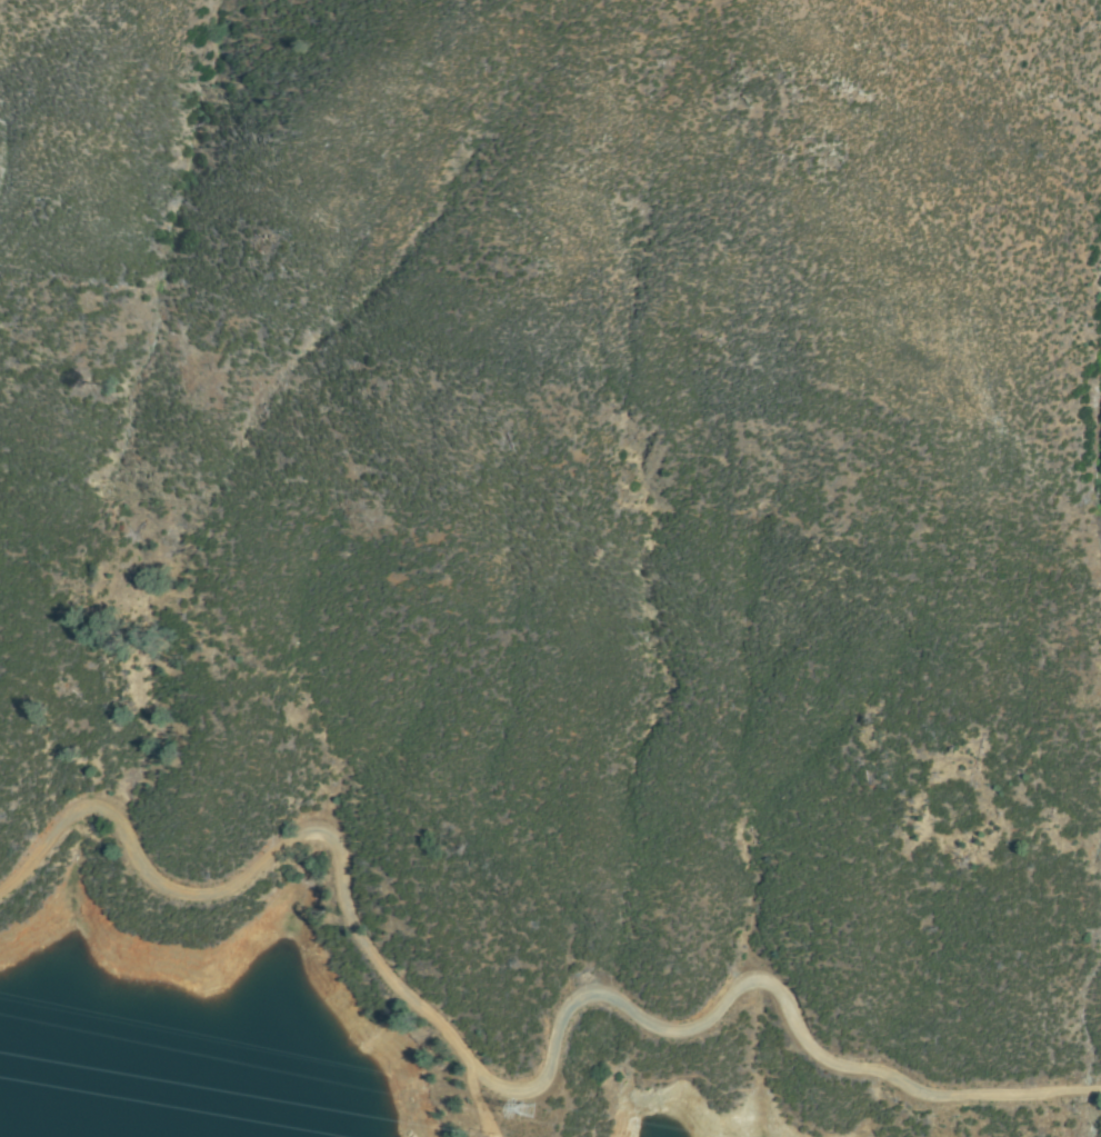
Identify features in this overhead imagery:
road: (500, 1070)
power tower: (528, 1114)

